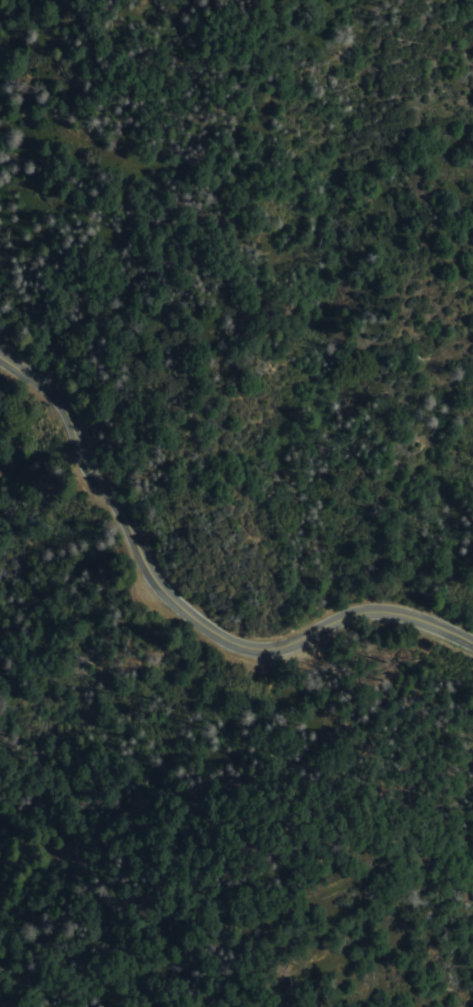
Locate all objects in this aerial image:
road: (181, 607)

